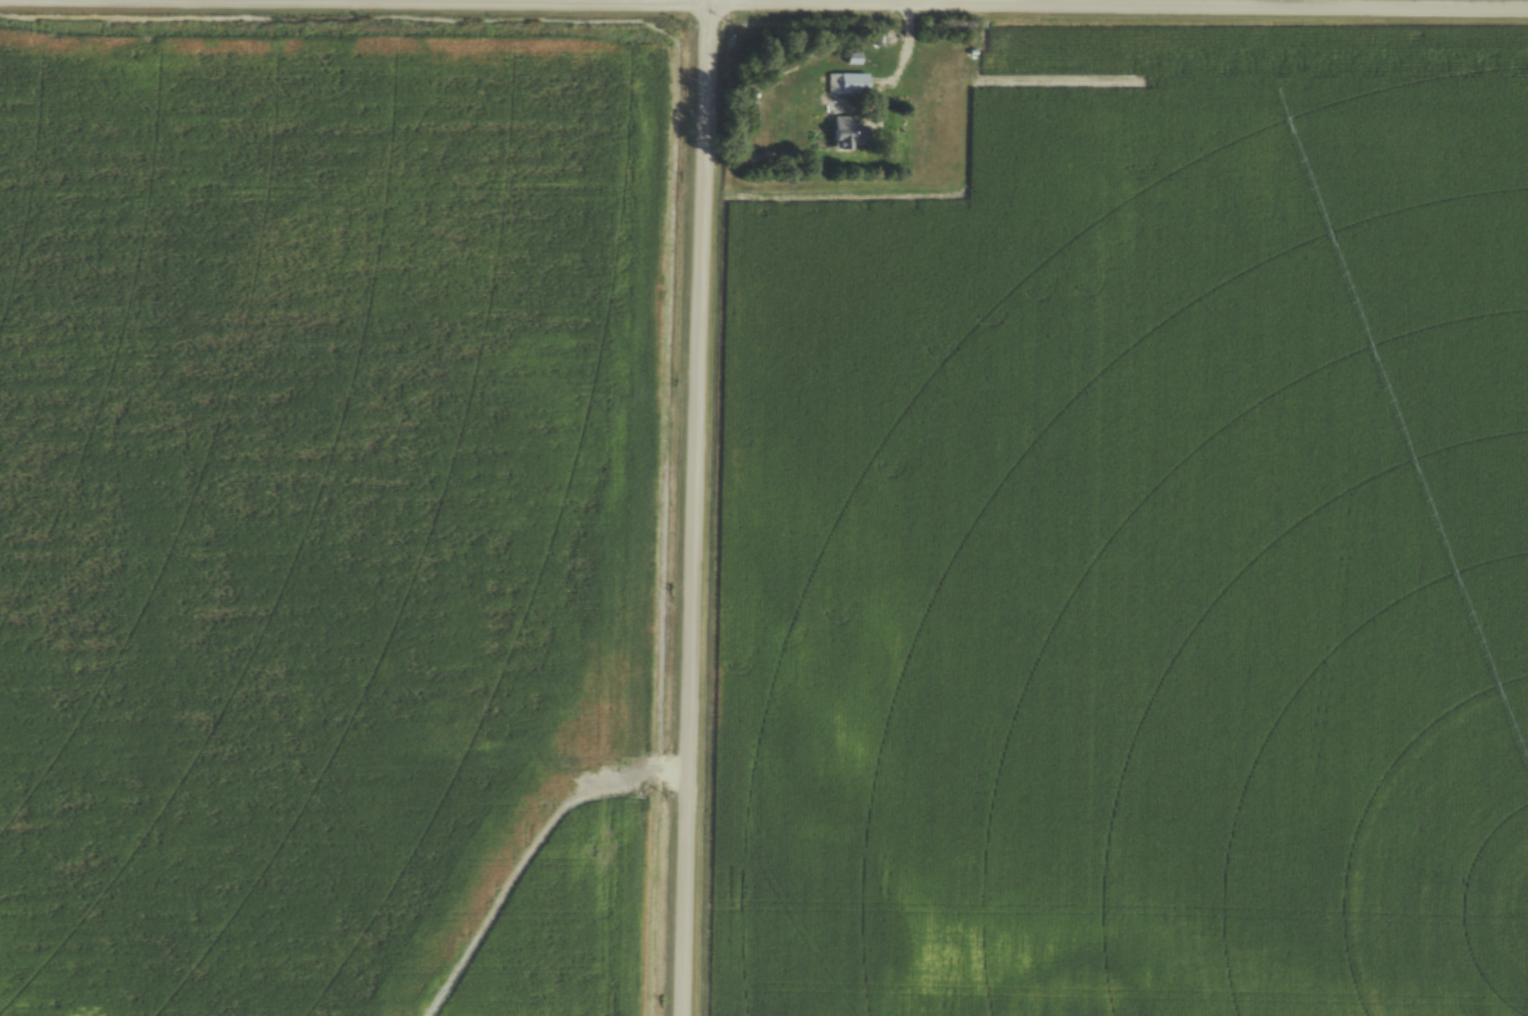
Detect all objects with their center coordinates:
road: (1050, 0)
road: (905, 63)
building: (848, 84)
building: (849, 134)
road: (694, 507)

